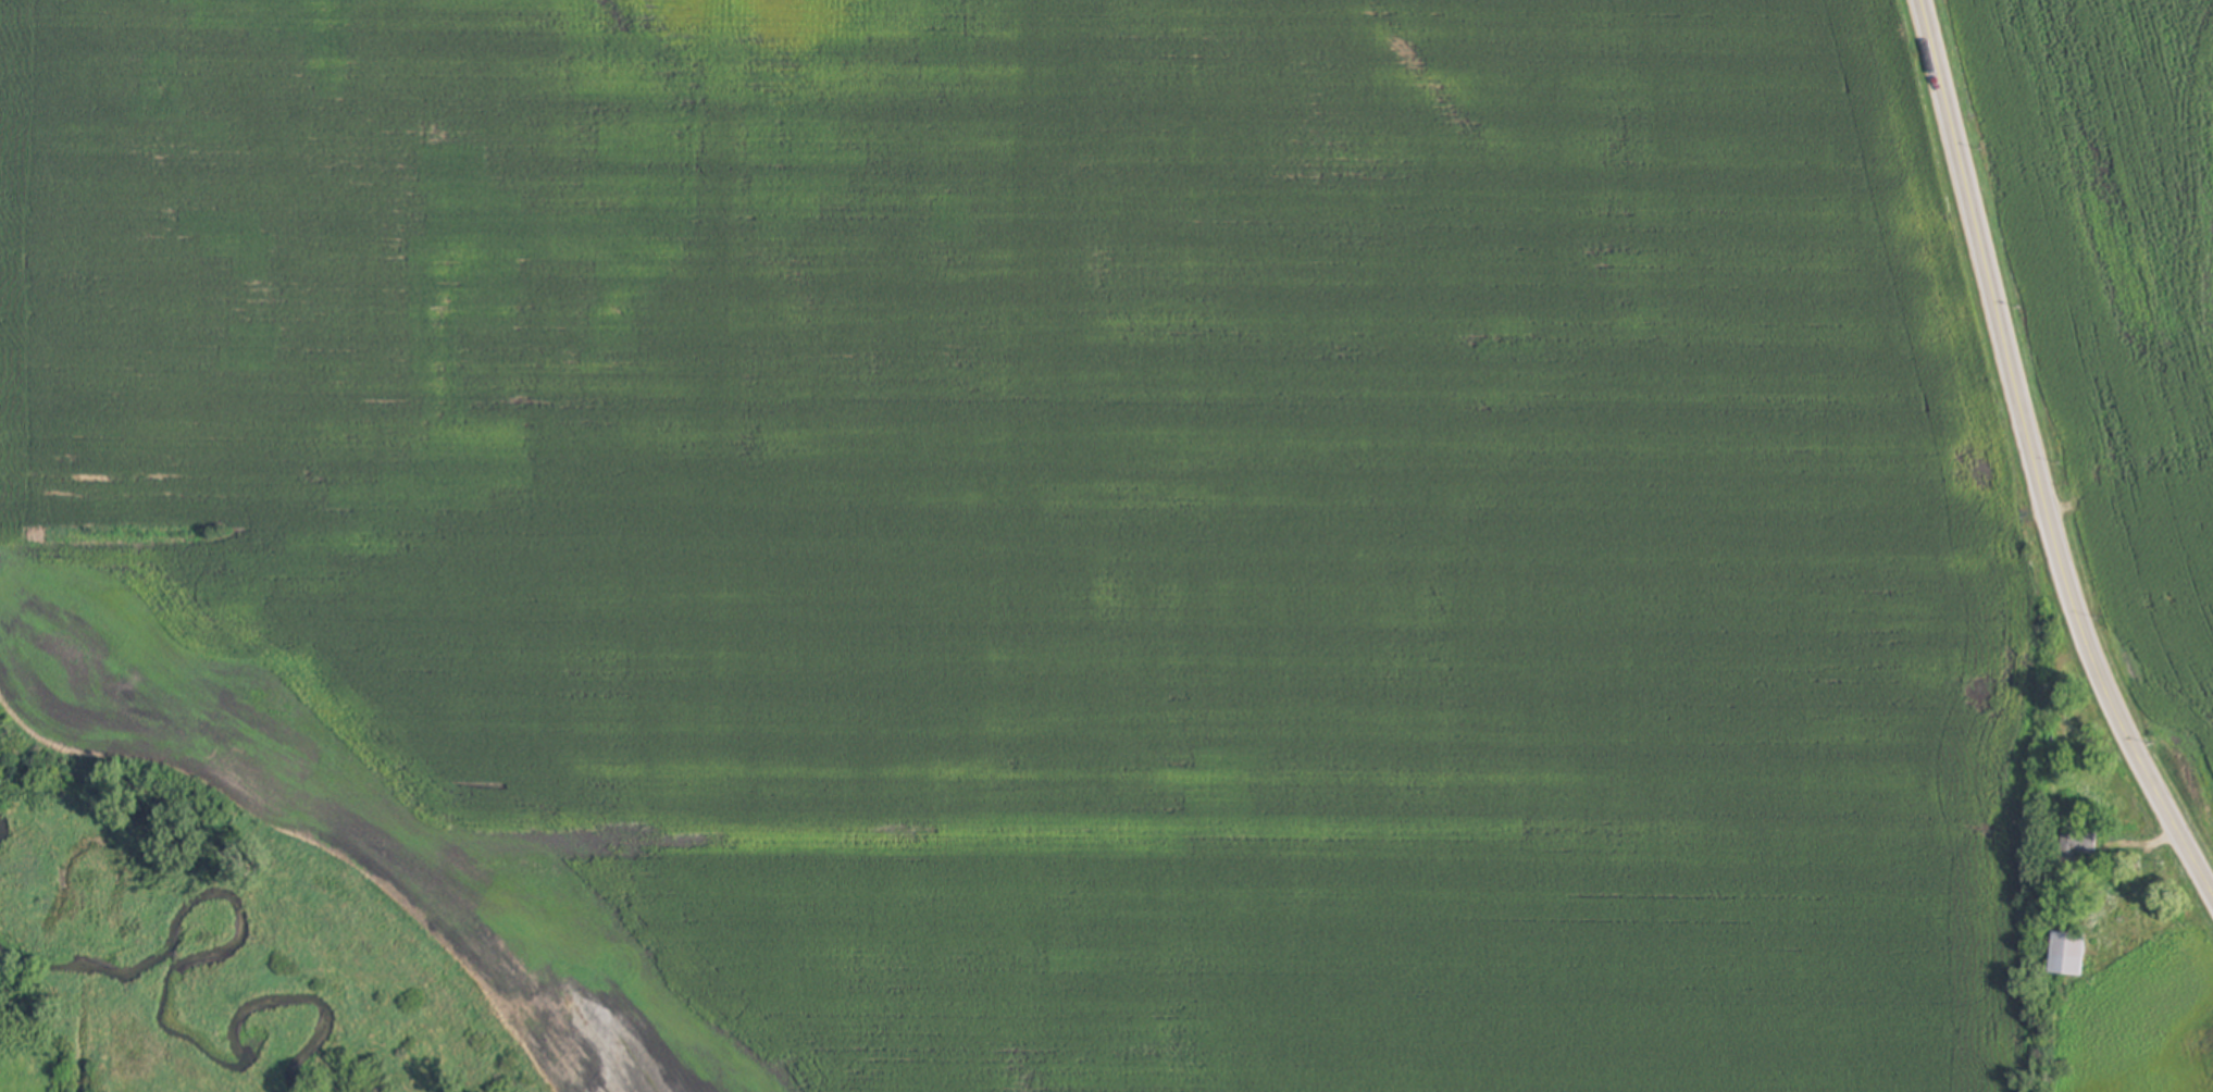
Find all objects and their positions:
road: (2035, 458)
building: (2078, 848)
building: (2066, 955)

